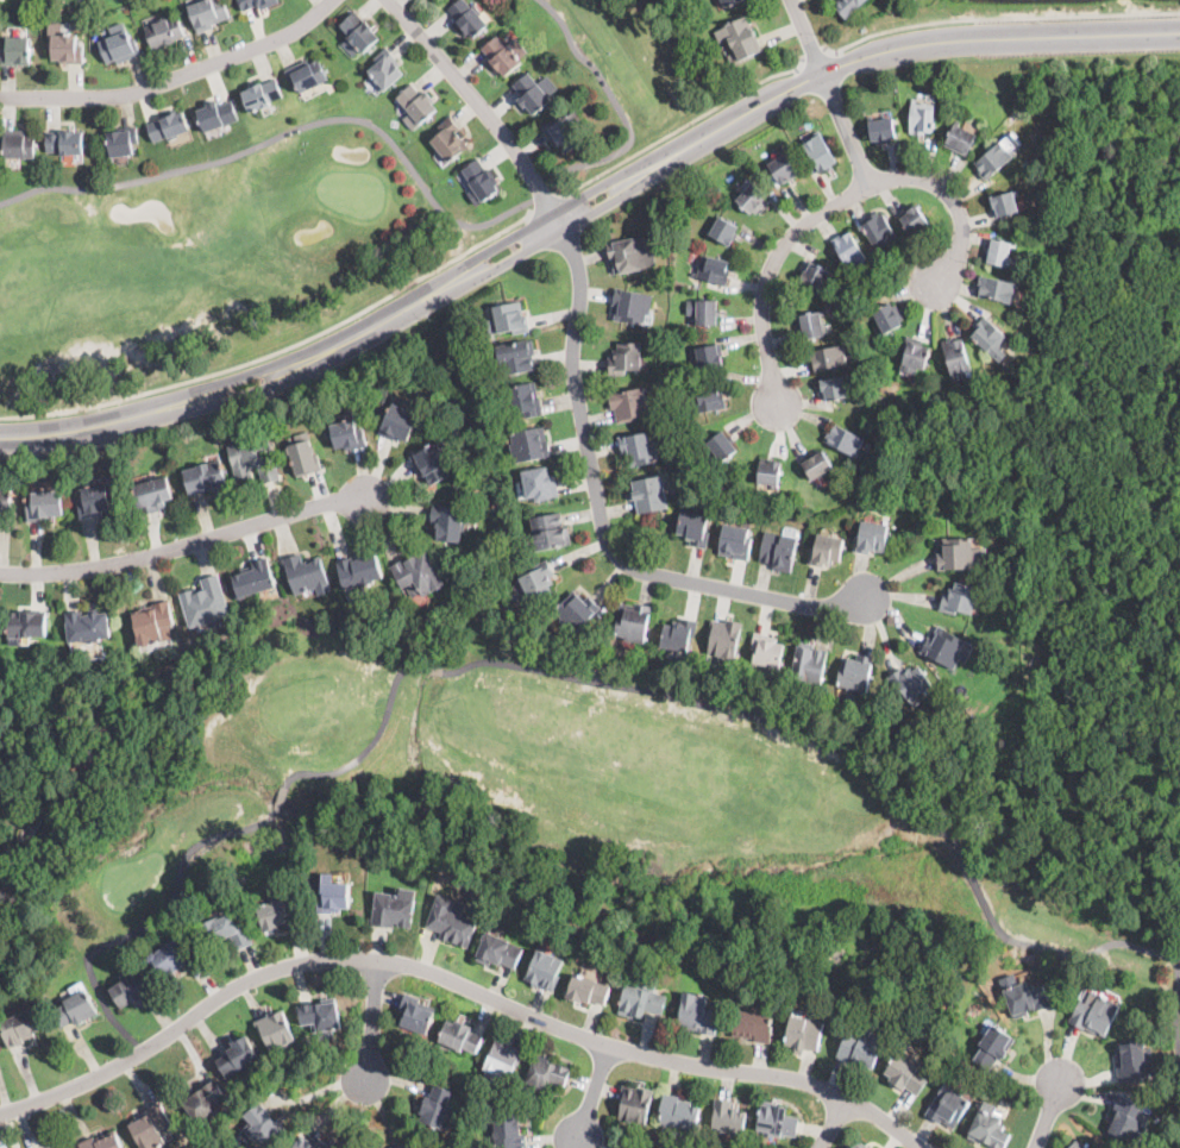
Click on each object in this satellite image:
building: (909, 0)
building: (728, 2)
building: (255, 4)
building: (848, 7)
building: (207, 13)
road: (1002, 15)
building: (467, 17)
building: (164, 31)
building: (358, 32)
building: (739, 38)
road: (809, 39)
building: (64, 45)
building: (119, 48)
building: (17, 51)
building: (500, 55)
road: (815, 55)
road: (849, 56)
building: (384, 69)
building: (308, 74)
road: (175, 77)
building: (531, 93)
building: (261, 95)
building: (416, 103)
road: (479, 103)
building: (216, 114)
building: (921, 117)
building: (169, 126)
road: (677, 126)
building: (881, 130)
building: (565, 131)
road: (849, 132)
building: (959, 138)
building: (448, 139)
building: (121, 140)
building: (65, 142)
building: (20, 143)
building: (820, 152)
building: (993, 159)
road: (406, 162)
building: (784, 168)
building: (479, 180)
road: (541, 197)
building: (752, 199)
building: (1004, 202)
road: (833, 208)
building: (915, 219)
road: (552, 221)
park: (275, 222)
building: (878, 228)
building: (723, 231)
building: (849, 250)
road: (481, 251)
building: (999, 251)
building: (629, 253)
road: (489, 266)
building: (713, 269)
building: (815, 275)
building: (996, 289)
building: (630, 306)
road: (403, 308)
building: (705, 312)
building: (887, 316)
building: (510, 318)
building: (810, 322)
building: (987, 333)
building: (427, 346)
road: (280, 349)
building: (709, 355)
building: (516, 356)
building: (914, 356)
building: (956, 356)
building: (626, 357)
building: (828, 357)
road: (269, 363)
road: (276, 382)
building: (834, 387)
building: (525, 399)
building: (707, 399)
building: (628, 403)
building: (400, 420)
road: (80, 424)
building: (346, 432)
building: (845, 439)
building: (528, 444)
building: (721, 446)
building: (640, 447)
building: (305, 456)
building: (253, 459)
building: (432, 460)
building: (817, 464)
building: (770, 473)
building: (203, 476)
building: (539, 483)
building: (152, 494)
building: (648, 494)
building: (94, 501)
building: (6, 502)
building: (45, 504)
road: (598, 514)
building: (450, 522)
building: (695, 527)
building: (547, 532)
building: (871, 538)
building: (735, 540)
road: (187, 541)
building: (778, 550)
building: (826, 550)
building: (960, 554)
building: (359, 570)
building: (419, 573)
building: (307, 575)
building: (252, 578)
building: (539, 581)
building: (1013, 588)
building: (959, 598)
building: (205, 602)
building: (576, 610)
building: (632, 621)
building: (152, 622)
building: (26, 626)
building: (88, 626)
building: (678, 633)
building: (723, 640)
building: (944, 646)
building: (766, 651)
building: (809, 663)
road: (429, 667)
building: (854, 672)
building: (910, 680)
road: (720, 703)
park: (496, 795)
building: (23, 833)
road: (214, 838)
road: (961, 859)
building: (332, 896)
building: (395, 908)
building: (278, 912)
building: (451, 920)
building: (226, 931)
building: (498, 949)
road: (1055, 952)
building: (174, 955)
road: (1174, 967)
building: (544, 970)
road: (457, 981)
building: (132, 989)
building: (588, 990)
building: (1025, 998)
building: (640, 1000)
building: (76, 1005)
building: (415, 1012)
building: (1096, 1012)
building: (698, 1014)
building: (320, 1015)
road: (372, 1023)
building: (752, 1024)
building: (21, 1027)
road: (1173, 1028)
building: (275, 1030)
building: (803, 1033)
building: (460, 1036)
building: (994, 1046)
building: (861, 1047)
building: (238, 1055)
building: (503, 1059)
building: (1134, 1061)
building: (545, 1074)
building: (905, 1074)
road: (69, 1081)
road: (595, 1093)
building: (205, 1103)
building: (635, 1103)
building: (437, 1105)
building: (948, 1105)
building: (678, 1112)
road: (1049, 1117)
building: (728, 1118)
building: (1129, 1119)
building: (776, 1121)
road: (833, 1124)
building: (151, 1127)
building: (263, 1128)
building: (988, 1128)
building: (508, 1130)
building: (102, 1142)
building: (301, 1142)
building: (860, 1144)
building: (1077, 1144)
building: (402, 1146)
building: (40, 1147)

